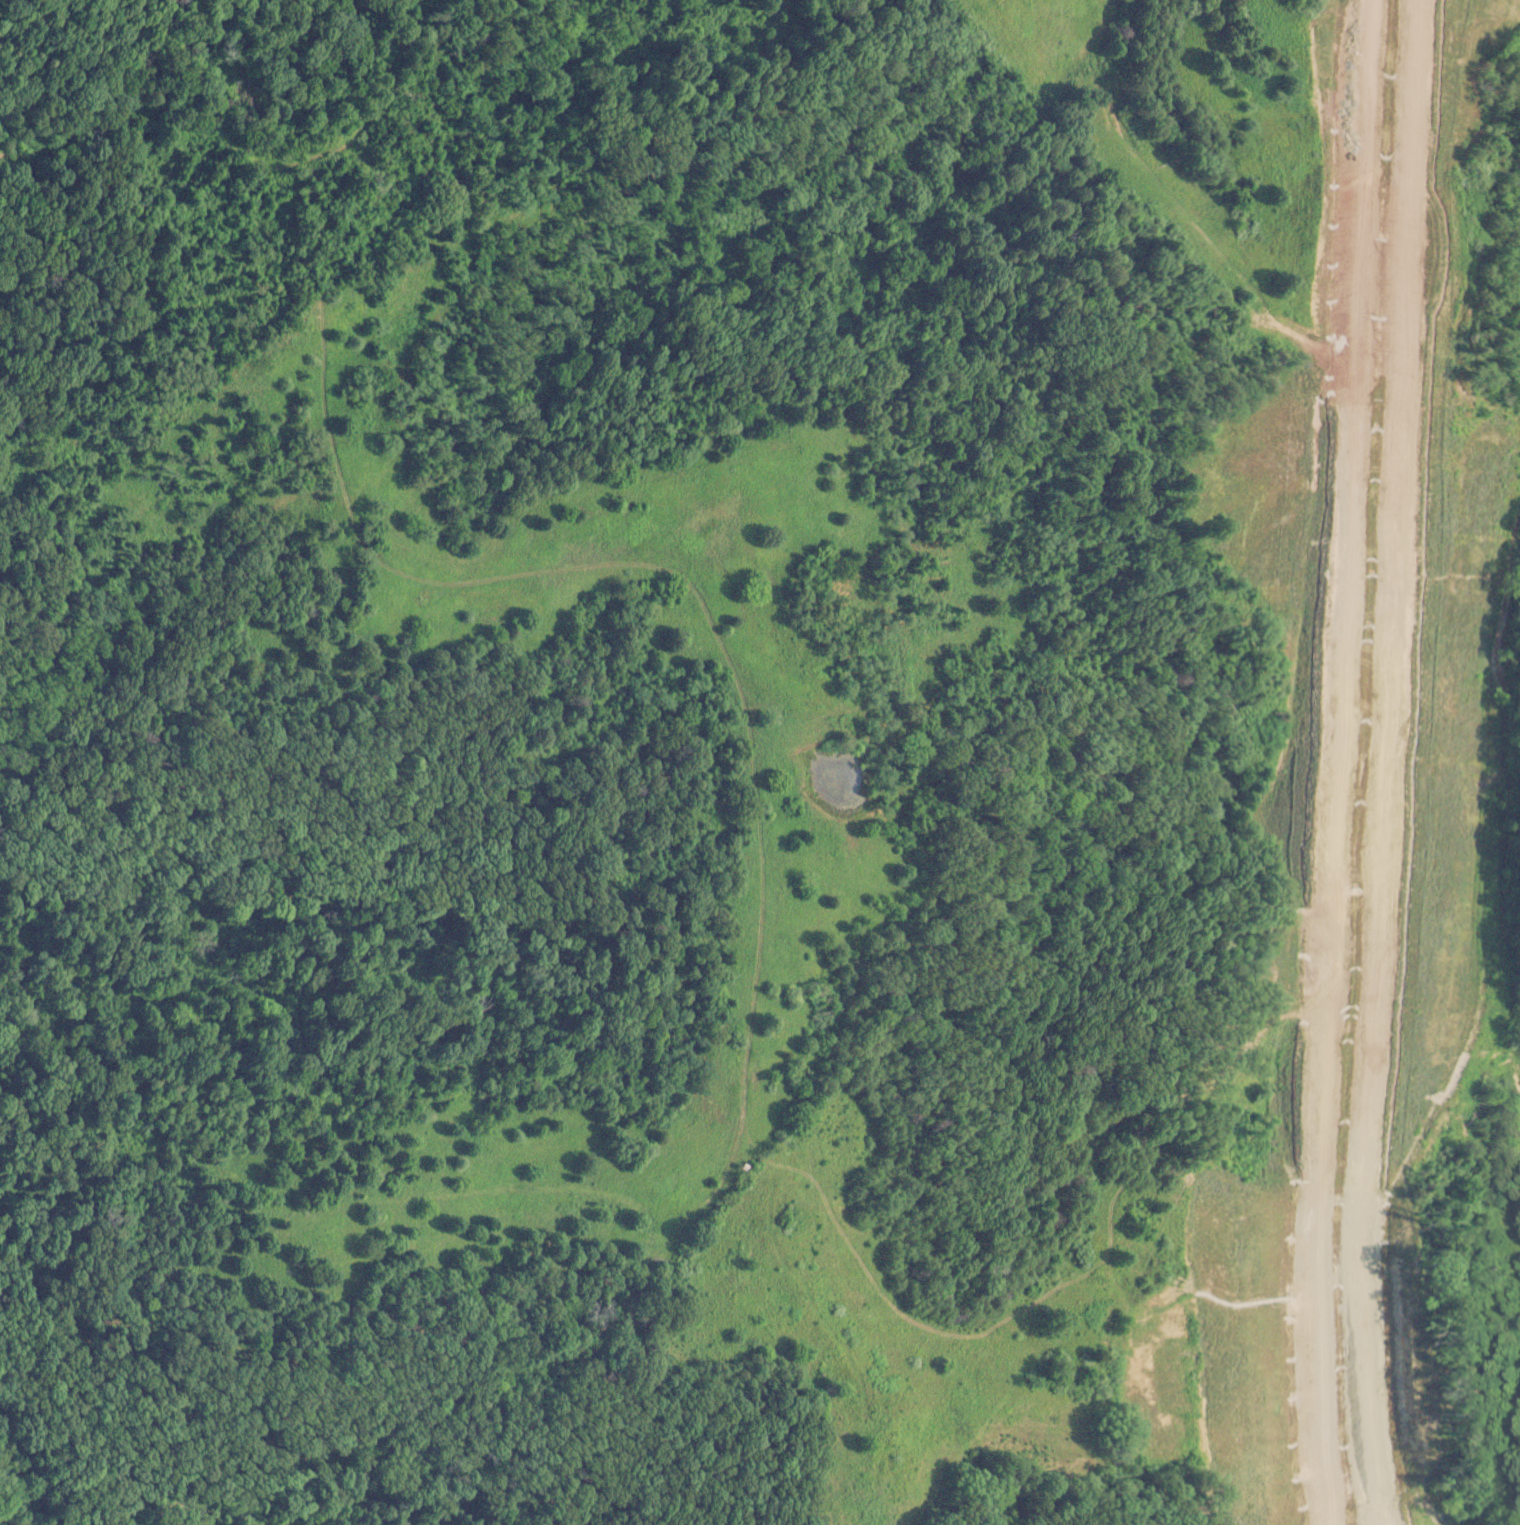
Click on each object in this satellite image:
road: (1337, 763)
road: (1386, 763)

